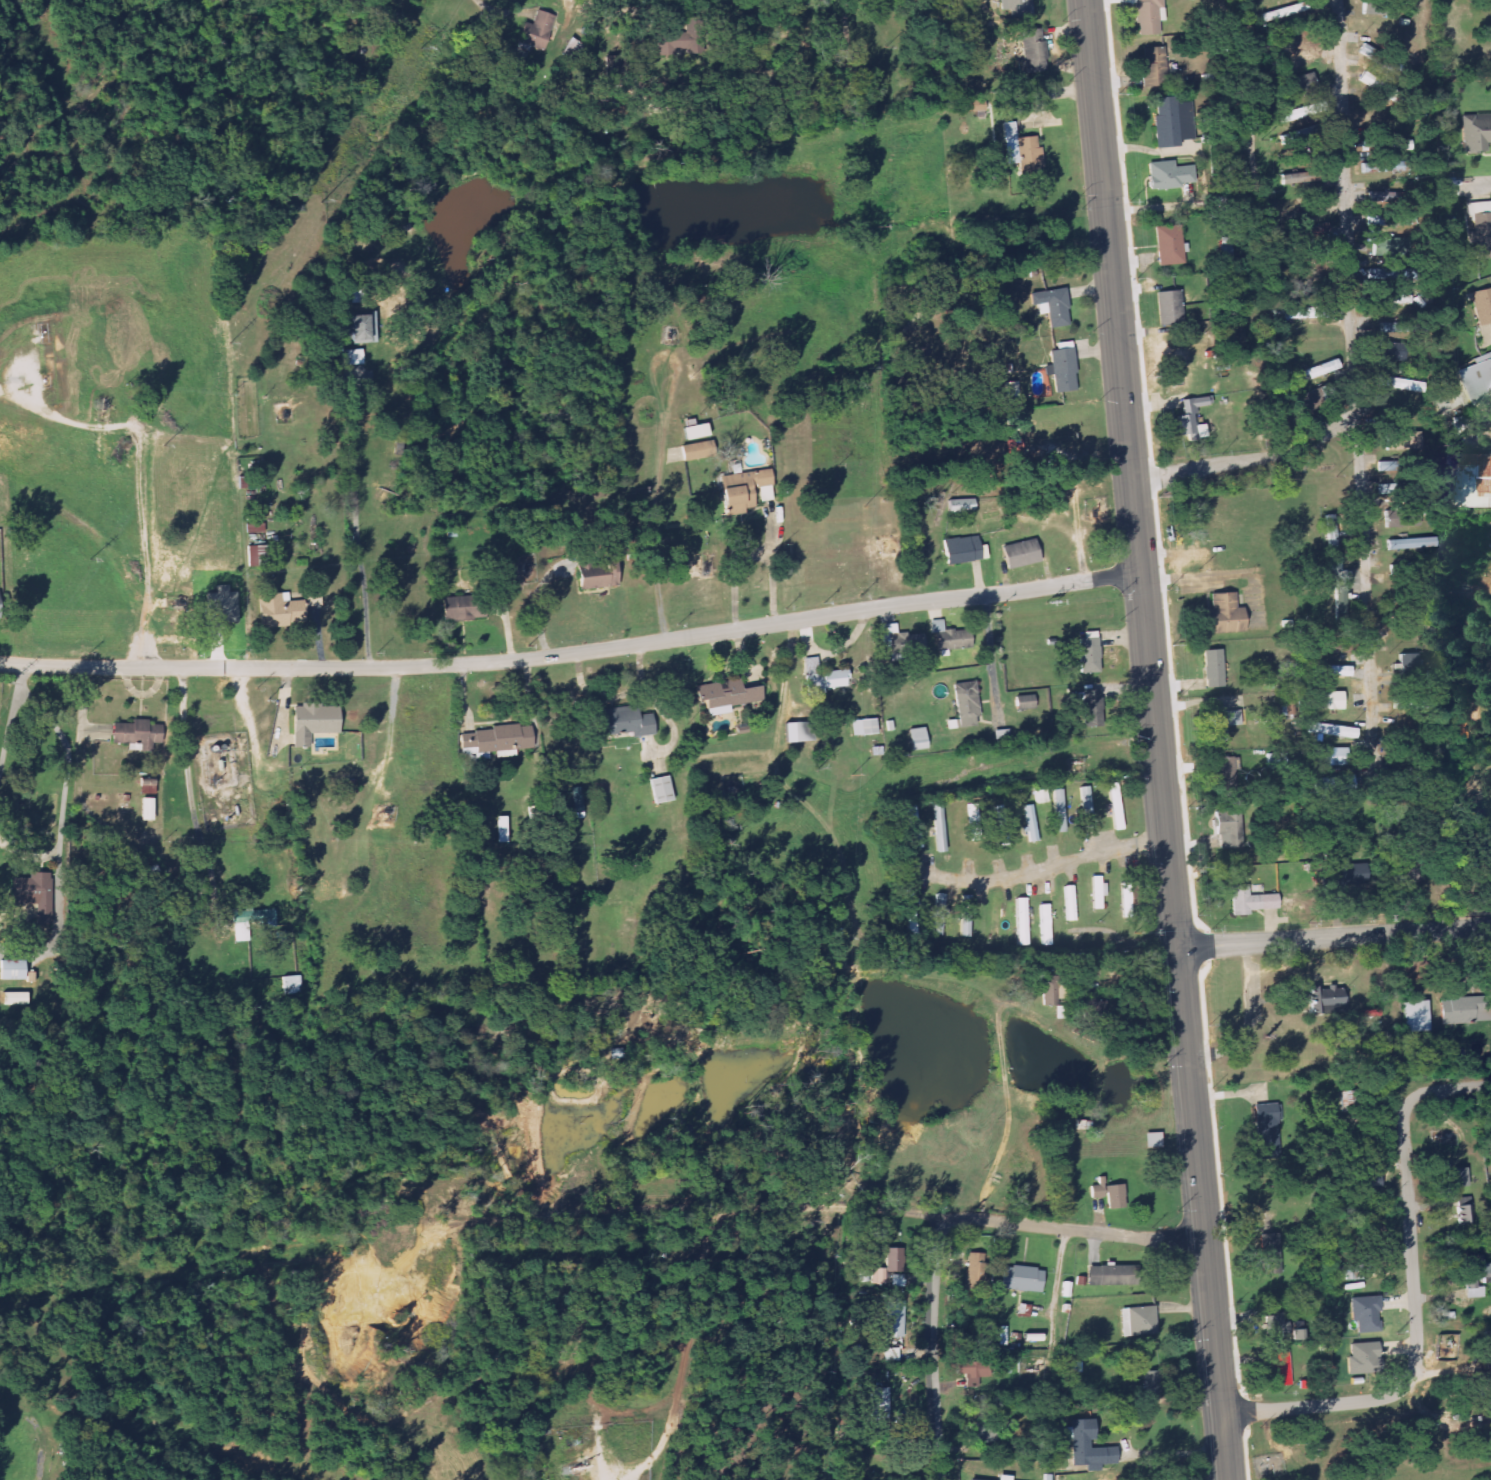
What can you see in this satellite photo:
building: (1019, 8)
building: (1385, 8)
building: (1283, 11)
building: (1147, 16)
building: (536, 31)
building: (669, 43)
building: (1034, 51)
building: (1296, 61)
building: (1154, 67)
building: (1306, 83)
building: (1376, 85)
building: (1303, 112)
building: (1170, 122)
building: (1475, 133)
building: (1294, 137)
building: (1009, 143)
building: (1394, 146)
building: (1030, 156)
building: (1384, 166)
building: (1167, 176)
building: (1305, 177)
road: (1476, 184)
building: (1479, 207)
building: (1481, 234)
building: (1168, 245)
building: (1389, 298)
building: (1052, 305)
building: (1482, 305)
building: (1168, 308)
building: (1305, 313)
building: (1398, 326)
building: (362, 328)
building: (1388, 346)
building: (353, 357)
building: (1061, 367)
building: (1316, 372)
building: (1477, 377)
building: (1396, 383)
road: (1354, 384)
building: (1011, 388)
building: (1192, 417)
building: (694, 432)
building: (1401, 441)
building: (696, 451)
road: (1249, 458)
road: (151, 471)
building: (1484, 480)
building: (1401, 487)
building: (740, 490)
building: (765, 494)
building: (960, 505)
building: (1400, 518)
building: (255, 528)
road: (361, 543)
building: (1411, 543)
building: (961, 550)
building: (1020, 554)
building: (259, 555)
building: (598, 576)
building: (1340, 592)
building: (463, 608)
building: (279, 609)
building: (1221, 615)
building: (950, 638)
building: (899, 640)
building: (1324, 647)
building: (1088, 651)
road: (572, 656)
building: (1406, 663)
building: (1212, 668)
building: (1326, 670)
building: (822, 678)
building: (729, 694)
building: (1326, 700)
building: (1025, 702)
building: (966, 704)
building: (1092, 708)
building: (312, 722)
building: (622, 722)
building: (1220, 723)
building: (863, 727)
building: (1335, 731)
building: (795, 732)
building: (138, 734)
building: (495, 740)
road: (1156, 740)
building: (1325, 756)
building: (1275, 759)
building: (1224, 771)
building: (1435, 777)
building: (661, 790)
building: (577, 800)
building: (1115, 806)
building: (1086, 807)
building: (147, 809)
building: (1059, 811)
building: (1031, 823)
building: (939, 828)
building: (1226, 828)
building: (500, 830)
building: (916, 843)
road: (1039, 870)
building: (1347, 873)
building: (34, 893)
building: (1098, 893)
building: (1249, 901)
building: (1069, 904)
building: (911, 914)
building: (938, 914)
building: (253, 916)
building: (965, 916)
building: (1021, 922)
building: (1045, 925)
road: (1333, 936)
building: (12, 970)
building: (292, 985)
building: (1050, 991)
building: (14, 999)
building: (1327, 1000)
building: (1459, 1011)
building: (1415, 1017)
road: (1449, 1088)
building: (1268, 1130)
road: (249, 1132)
building: (1461, 1178)
building: (1370, 1184)
building: (1108, 1194)
building: (1464, 1211)
road: (1007, 1222)
road: (402, 1234)
road: (1411, 1246)
building: (1270, 1254)
building: (894, 1259)
building: (974, 1269)
building: (1353, 1270)
building: (1475, 1275)
building: (879, 1276)
building: (1106, 1276)
building: (1023, 1279)
building: (1365, 1314)
building: (895, 1320)
building: (1140, 1322)
building: (1277, 1325)
road: (688, 1346)
road: (932, 1347)
building: (1362, 1359)
building: (1280, 1370)
building: (970, 1373)
building: (1153, 1383)
road: (153, 1384)
building: (1484, 1395)
road: (1311, 1405)
building: (880, 1407)
building: (977, 1434)
building: (1089, 1449)
road: (0, 1466)
building: (1003, 1478)

